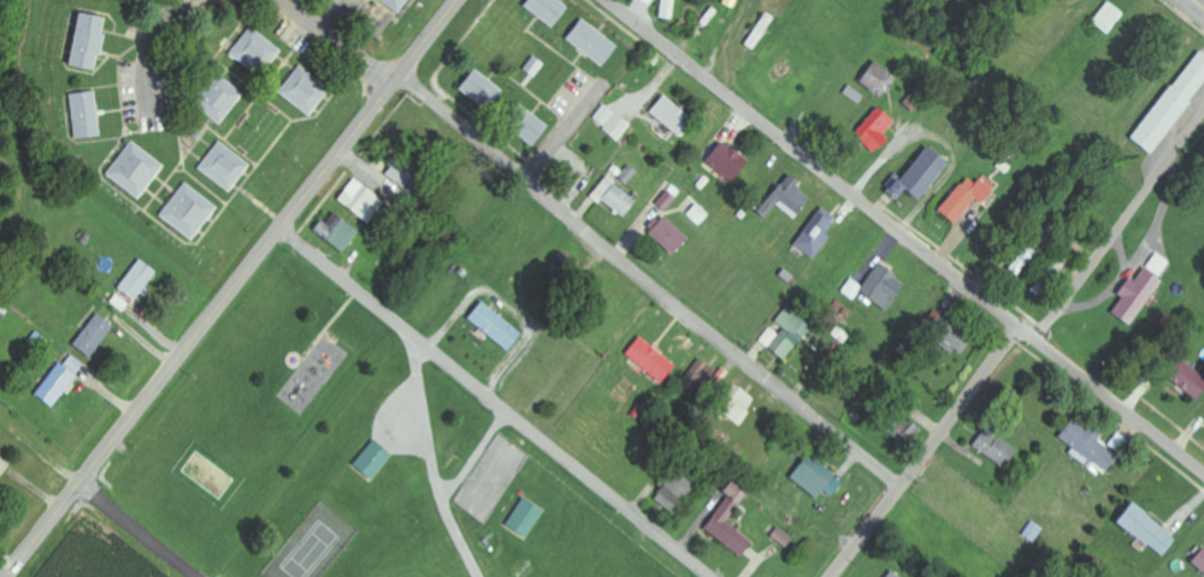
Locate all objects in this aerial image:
building: (648, 1)
building: (1070, 1)
building: (733, 2)
building: (397, 4)
road: (1196, 6)
building: (669, 8)
building: (550, 10)
building: (1111, 18)
road: (340, 37)
building: (93, 40)
building: (595, 42)
road: (153, 44)
building: (258, 52)
building: (536, 66)
building: (880, 79)
building: (307, 90)
building: (484, 90)
building: (223, 101)
building: (1174, 105)
building: (87, 114)
building: (674, 114)
building: (614, 121)
building: (879, 129)
building: (538, 132)
building: (731, 161)
building: (226, 166)
building: (137, 169)
building: (631, 174)
building: (923, 174)
building: (618, 197)
building: (671, 197)
building: (791, 198)
building: (365, 200)
building: (967, 200)
building: (191, 212)
building: (700, 215)
road: (1119, 226)
building: (342, 231)
building: (819, 233)
building: (673, 236)
road: (903, 239)
building: (1032, 251)
building: (141, 279)
road: (648, 284)
building: (886, 286)
road: (232, 288)
building: (1143, 291)
building: (498, 326)
building: (789, 333)
building: (98, 335)
building: (961, 338)
building: (654, 359)
building: (1188, 377)
building: (64, 380)
road: (494, 401)
building: (739, 408)
building: (1091, 445)
building: (997, 447)
road: (926, 454)
building: (377, 459)
building: (0, 468)
building: (820, 478)
road: (101, 499)
building: (671, 500)
building: (732, 507)
building: (527, 517)
building: (1151, 530)
building: (785, 537)
building: (1200, 559)
building: (895, 575)

